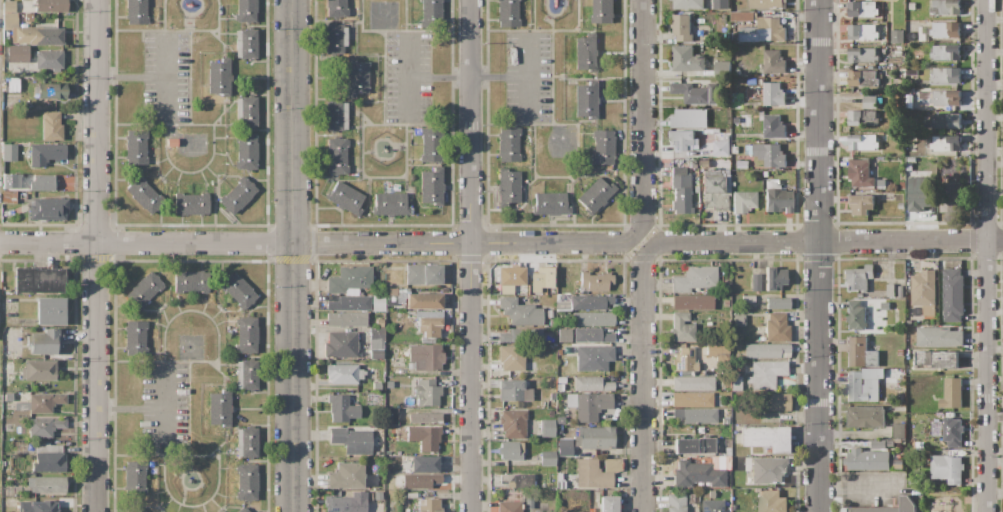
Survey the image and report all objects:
building: (766, 4)
building: (688, 5)
building: (720, 5)
building: (50, 6)
building: (911, 6)
building: (336, 8)
building: (946, 8)
building: (862, 9)
building: (246, 11)
building: (603, 11)
building: (136, 12)
building: (431, 13)
building: (508, 13)
building: (741, 17)
building: (686, 26)
building: (29, 29)
building: (945, 30)
building: (760, 32)
building: (862, 32)
building: (339, 36)
building: (898, 37)
building: (246, 44)
building: (18, 53)
building: (586, 53)
building: (946, 53)
road: (165, 54)
building: (863, 56)
building: (49, 59)
building: (687, 60)
building: (773, 62)
building: (723, 69)
road: (467, 74)
road: (152, 75)
road: (527, 75)
road: (406, 76)
building: (945, 76)
building: (219, 77)
building: (356, 78)
building: (862, 79)
building: (751, 82)
building: (11, 85)
building: (51, 90)
building: (696, 93)
building: (770, 95)
building: (945, 98)
building: (586, 100)
building: (869, 102)
building: (246, 112)
building: (336, 116)
road: (645, 118)
building: (863, 118)
building: (690, 119)
building: (946, 122)
building: (51, 126)
building: (774, 127)
building: (683, 141)
building: (171, 142)
building: (864, 143)
building: (509, 144)
building: (945, 144)
building: (430, 145)
building: (603, 146)
building: (135, 148)
building: (720, 149)
building: (246, 151)
building: (735, 151)
building: (10, 152)
building: (44, 153)
building: (337, 155)
building: (769, 155)
building: (910, 160)
building: (704, 164)
building: (742, 164)
building: (909, 167)
building: (860, 174)
building: (10, 180)
building: (43, 182)
building: (431, 186)
building: (902, 186)
building: (508, 187)
building: (681, 189)
building: (696, 189)
building: (716, 191)
building: (919, 193)
building: (144, 195)
building: (237, 195)
building: (596, 196)
building: (9, 197)
building: (345, 198)
building: (777, 198)
building: (949, 198)
building: (744, 201)
building: (192, 204)
building: (390, 204)
building: (550, 204)
building: (861, 205)
building: (901, 206)
building: (48, 209)
road: (646, 242)
road: (826, 242)
road: (321, 243)
road: (284, 253)
road: (95, 255)
road: (292, 255)
road: (472, 255)
road: (818, 256)
road: (986, 256)
building: (423, 274)
building: (858, 277)
building: (775, 278)
building: (350, 279)
building: (695, 279)
building: (755, 279)
building: (39, 280)
building: (512, 280)
building: (191, 281)
building: (596, 281)
building: (145, 289)
building: (924, 289)
building: (237, 290)
building: (551, 290)
building: (890, 291)
building: (390, 292)
building: (900, 292)
building: (952, 296)
building: (748, 299)
building: (424, 301)
building: (590, 302)
building: (692, 302)
building: (355, 303)
building: (378, 303)
building: (725, 303)
building: (778, 303)
building: (884, 306)
building: (51, 311)
building: (520, 312)
building: (428, 313)
building: (855, 316)
building: (346, 319)
building: (593, 319)
building: (739, 320)
building: (429, 326)
building: (681, 327)
building: (777, 328)
building: (246, 334)
building: (522, 335)
building: (592, 335)
building: (135, 337)
building: (938, 337)
building: (377, 339)
building: (44, 341)
building: (341, 345)
building: (717, 349)
building: (767, 350)
building: (860, 354)
building: (425, 357)
building: (593, 357)
building: (511, 358)
building: (685, 360)
building: (938, 360)
building: (7, 366)
building: (39, 370)
building: (344, 373)
building: (247, 374)
building: (766, 374)
road: (644, 379)
building: (735, 382)
building: (693, 383)
road: (161, 384)
building: (592, 384)
building: (376, 385)
building: (560, 387)
building: (861, 388)
building: (511, 390)
building: (427, 392)
building: (951, 394)
building: (9, 396)
building: (692, 399)
building: (776, 402)
building: (41, 403)
building: (589, 405)
road: (149, 407)
building: (220, 407)
building: (342, 408)
building: (552, 413)
building: (696, 415)
building: (391, 416)
building: (425, 418)
building: (866, 418)
building: (725, 419)
building: (560, 420)
building: (513, 424)
building: (45, 426)
building: (547, 428)
building: (898, 431)
building: (950, 434)
building: (4, 437)
building: (425, 437)
building: (595, 437)
building: (765, 437)
building: (352, 440)
building: (247, 442)
building: (890, 444)
building: (695, 445)
building: (878, 445)
building: (564, 447)
building: (511, 450)
building: (48, 458)
building: (547, 458)
building: (867, 460)
building: (424, 464)
building: (791, 465)
building: (946, 469)
building: (768, 470)
building: (702, 472)
building: (598, 473)
building: (347, 475)
building: (135, 479)
building: (530, 480)
building: (420, 481)
building: (246, 482)
building: (46, 484)
building: (378, 496)
building: (771, 502)
building: (905, 502)
building: (345, 503)
building: (676, 503)
building: (609, 504)
building: (428, 505)
building: (38, 506)
building: (509, 506)
building: (711, 506)
building: (137, 510)
building: (243, 510)
building: (541, 511)
building: (575, 511)

